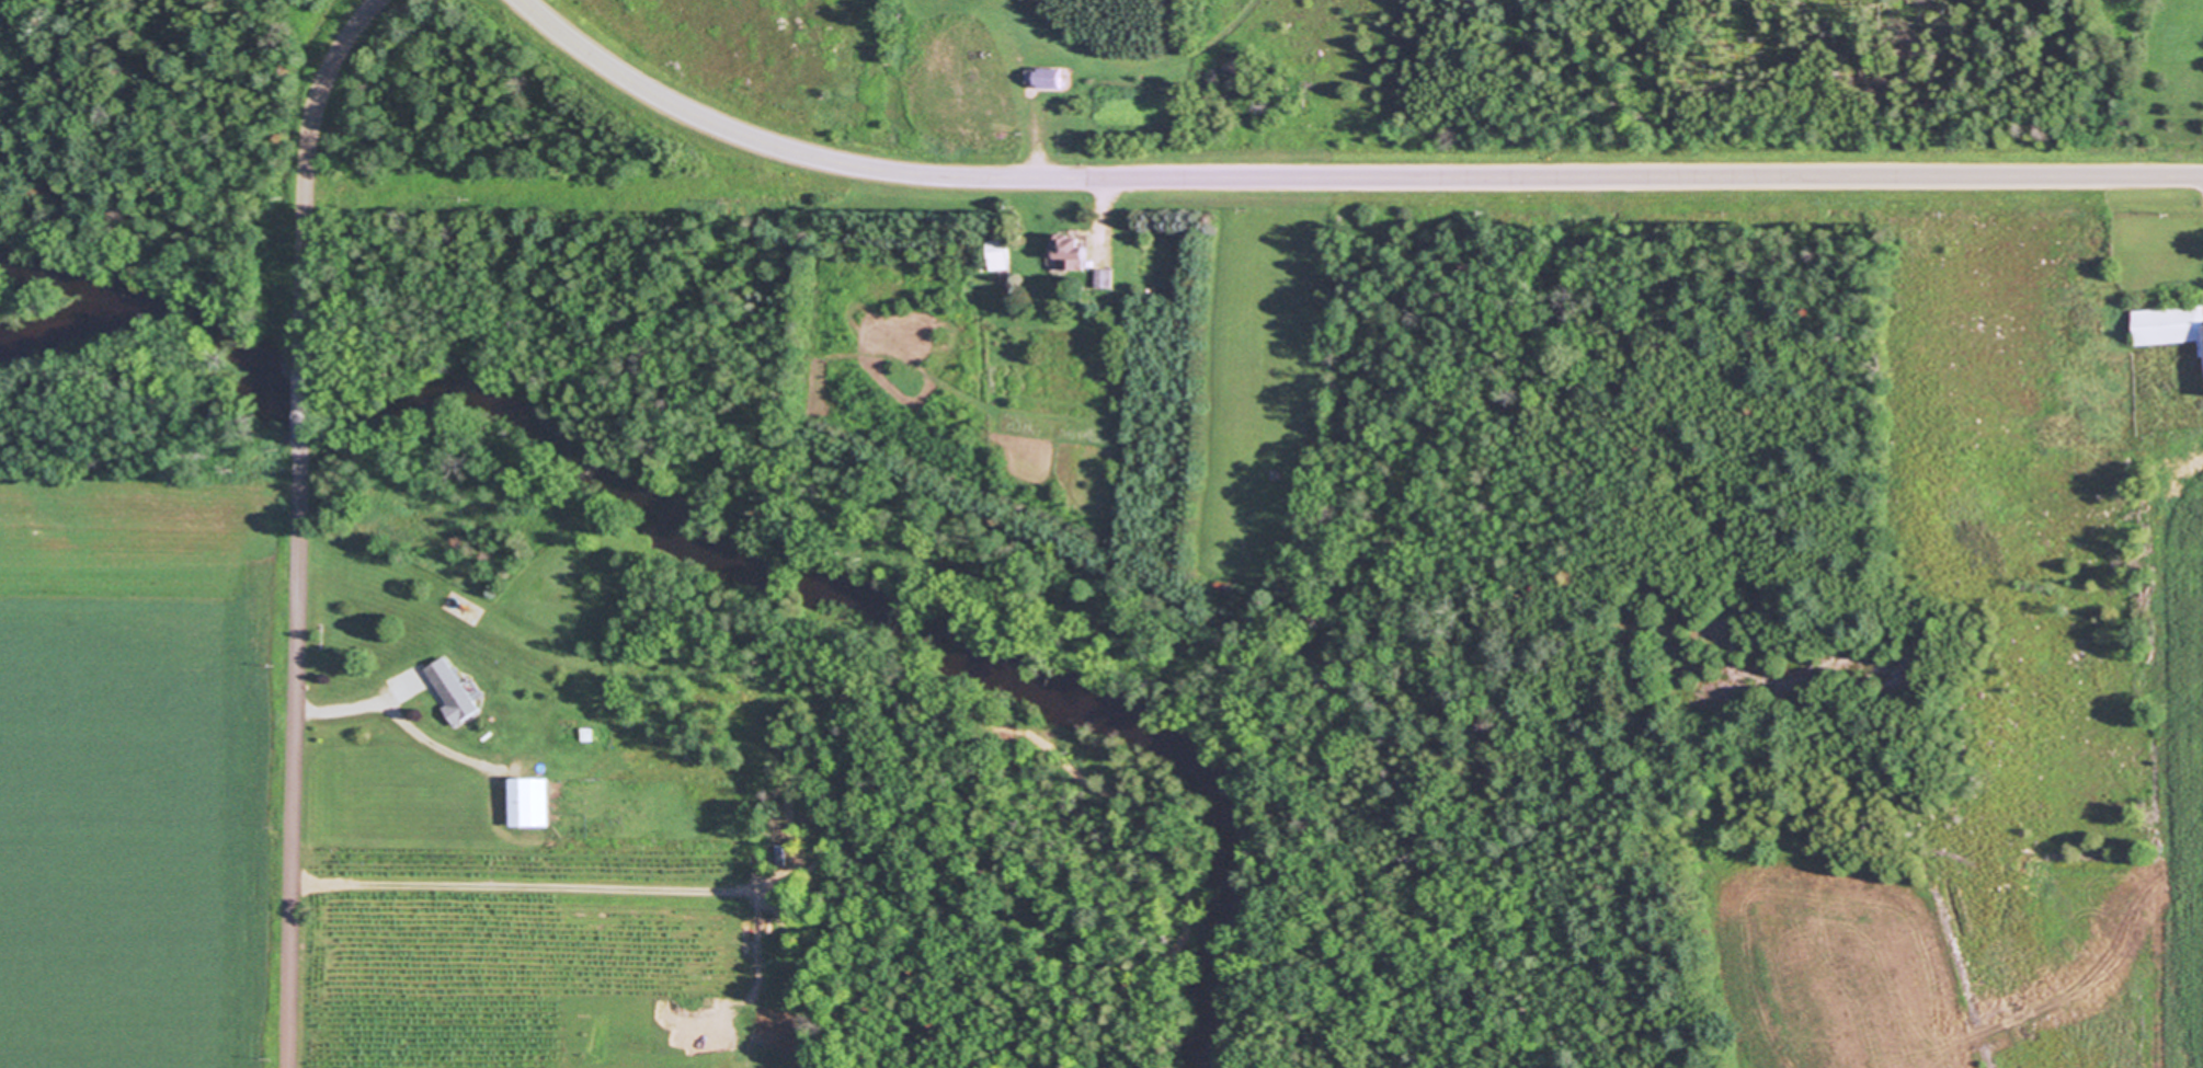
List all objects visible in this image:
building: (1053, 78)
building: (994, 87)
road: (1032, 149)
road: (306, 172)
road: (1340, 176)
road: (1105, 206)
building: (1075, 250)
building: (998, 253)
building: (2169, 325)
road: (299, 406)
river: (716, 548)
building: (455, 689)
road: (393, 712)
road: (292, 758)
building: (529, 802)

